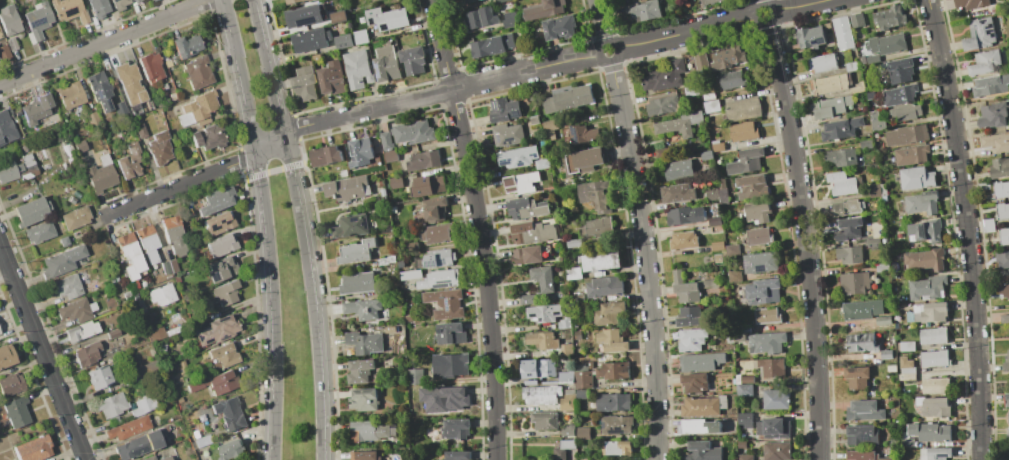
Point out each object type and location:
building: (153, 0)
building: (375, 0)
building: (138, 1)
building: (156, 1)
building: (466, 1)
building: (499, 1)
building: (711, 1)
building: (294, 2)
road: (764, 3)
building: (120, 4)
building: (972, 4)
road: (765, 5)
road: (802, 6)
building: (99, 8)
building: (70, 10)
building: (543, 10)
building: (644, 10)
building: (307, 14)
building: (339, 17)
building: (481, 17)
building: (889, 17)
building: (389, 19)
building: (510, 19)
building: (10, 20)
road: (603, 20)
building: (856, 20)
building: (37, 21)
building: (827, 26)
building: (560, 27)
road: (689, 33)
building: (843, 33)
building: (980, 34)
building: (360, 37)
building: (811, 37)
building: (310, 40)
road: (104, 41)
building: (343, 41)
road: (608, 42)
building: (12, 44)
building: (886, 44)
building: (491, 45)
building: (186, 46)
building: (4, 52)
building: (861, 57)
building: (728, 58)
building: (872, 58)
building: (413, 59)
building: (700, 62)
building: (985, 62)
building: (823, 63)
building: (386, 64)
building: (151, 66)
building: (852, 66)
building: (358, 69)
building: (901, 70)
building: (199, 71)
building: (665, 76)
building: (332, 78)
building: (729, 80)
building: (129, 82)
building: (304, 83)
building: (830, 83)
building: (165, 86)
building: (988, 86)
building: (857, 88)
building: (100, 89)
building: (692, 91)
road: (442, 93)
building: (901, 94)
building: (71, 95)
building: (709, 96)
building: (174, 97)
building: (568, 98)
building: (663, 106)
building: (712, 106)
building: (830, 107)
building: (36, 109)
building: (199, 109)
building: (743, 109)
building: (121, 110)
building: (504, 110)
building: (524, 113)
building: (905, 113)
building: (993, 115)
building: (536, 119)
building: (876, 121)
building: (679, 124)
building: (7, 128)
building: (840, 128)
building: (550, 129)
building: (141, 130)
building: (743, 131)
building: (413, 132)
building: (507, 135)
building: (578, 135)
building: (907, 135)
building: (209, 137)
building: (997, 141)
road: (269, 142)
building: (877, 142)
building: (752, 143)
building: (866, 144)
building: (81, 145)
building: (717, 146)
building: (160, 147)
building: (388, 147)
building: (979, 151)
building: (660, 152)
building: (362, 154)
building: (706, 155)
building: (911, 155)
building: (324, 156)
building: (518, 156)
building: (687, 156)
building: (841, 157)
building: (873, 159)
building: (423, 160)
building: (584, 160)
building: (130, 161)
building: (746, 161)
building: (542, 164)
building: (28, 167)
building: (1000, 168)
building: (678, 170)
building: (10, 171)
building: (343, 173)
building: (101, 175)
building: (917, 178)
building: (395, 183)
building: (521, 183)
building: (721, 184)
building: (844, 184)
road: (181, 185)
building: (428, 185)
building: (753, 187)
building: (982, 187)
building: (348, 188)
building: (1001, 189)
building: (877, 190)
building: (383, 192)
building: (677, 193)
building: (712, 193)
building: (595, 196)
building: (723, 196)
building: (217, 200)
building: (923, 203)
building: (847, 207)
building: (526, 208)
building: (392, 209)
building: (435, 209)
building: (32, 211)
building: (757, 212)
building: (1002, 212)
building: (685, 215)
building: (76, 218)
building: (714, 221)
building: (219, 223)
building: (988, 225)
building: (350, 226)
road: (302, 227)
road: (480, 227)
building: (596, 227)
road: (264, 228)
building: (848, 228)
road: (969, 228)
building: (110, 231)
building: (926, 231)
building: (41, 232)
building: (533, 232)
building: (437, 233)
building: (174, 234)
building: (61, 235)
building: (759, 236)
building: (1004, 236)
building: (683, 240)
road: (808, 240)
building: (148, 243)
building: (573, 243)
building: (873, 243)
building: (222, 244)
building: (717, 245)
building: (412, 246)
building: (731, 250)
building: (356, 251)
building: (530, 254)
building: (130, 255)
building: (849, 255)
building: (440, 258)
road: (646, 259)
building: (717, 259)
building: (1002, 259)
building: (926, 260)
building: (386, 261)
building: (600, 261)
building: (760, 262)
building: (59, 263)
building: (400, 264)
building: (170, 266)
building: (883, 268)
building: (222, 269)
road: (5, 272)
building: (574, 273)
building: (410, 274)
building: (559, 276)
building: (677, 276)
building: (735, 276)
building: (83, 278)
building: (542, 278)
building: (115, 279)
building: (438, 280)
building: (357, 282)
building: (855, 283)
building: (708, 284)
building: (66, 286)
building: (603, 287)
building: (927, 287)
building: (1004, 289)
building: (764, 291)
building: (226, 292)
building: (687, 292)
building: (162, 294)
building: (527, 300)
building: (445, 304)
building: (142, 306)
building: (363, 308)
building: (133, 309)
building: (77, 310)
building: (857, 310)
building: (930, 312)
building: (544, 313)
building: (608, 313)
building: (688, 316)
building: (767, 316)
building: (408, 319)
building: (1004, 319)
building: (883, 320)
building: (564, 323)
building: (366, 325)
building: (575, 325)
building: (896, 326)
building: (742, 329)
building: (217, 330)
building: (390, 330)
building: (0, 331)
building: (82, 331)
building: (114, 333)
building: (157, 333)
building: (450, 333)
building: (577, 335)
building: (933, 335)
building: (739, 337)
building: (730, 338)
building: (692, 339)
building: (543, 341)
building: (612, 341)
building: (364, 342)
building: (767, 342)
building: (861, 343)
building: (906, 346)
building: (566, 349)
building: (395, 350)
road: (43, 351)
building: (87, 354)
building: (225, 355)
building: (886, 355)
building: (6, 356)
building: (935, 358)
building: (701, 362)
building: (905, 362)
building: (1006, 362)
building: (452, 366)
building: (590, 366)
building: (580, 367)
building: (771, 367)
building: (538, 368)
building: (891, 368)
building: (613, 370)
building: (360, 371)
building: (137, 374)
building: (907, 374)
building: (415, 376)
building: (100, 377)
building: (856, 377)
building: (577, 378)
building: (743, 379)
building: (530, 382)
building: (548, 382)
building: (694, 382)
building: (216, 383)
building: (10, 384)
building: (935, 385)
building: (744, 389)
building: (710, 393)
building: (541, 394)
building: (581, 394)
building: (179, 399)
building: (454, 399)
building: (775, 399)
building: (364, 400)
building: (568, 400)
building: (1007, 400)
building: (613, 402)
building: (112, 405)
building: (143, 406)
building: (703, 406)
building: (934, 407)
building: (864, 411)
building: (17, 412)
building: (231, 414)
building: (1008, 418)
building: (168, 420)
building: (544, 420)
building: (745, 420)
building: (616, 424)
building: (699, 427)
building: (129, 428)
building: (774, 428)
building: (456, 429)
building: (568, 430)
building: (369, 431)
building: (930, 432)
building: (583, 433)
building: (862, 435)
building: (1007, 435)
building: (906, 440)
building: (203, 441)
building: (894, 441)
building: (141, 443)
building: (742, 444)
building: (34, 448)
building: (617, 448)
building: (231, 449)
building: (563, 449)
building: (881, 449)
building: (702, 451)
building: (777, 451)
building: (935, 453)
building: (364, 455)
building: (457, 455)
building: (865, 455)
building: (746, 457)
building: (149, 458)
building: (165, 458)

